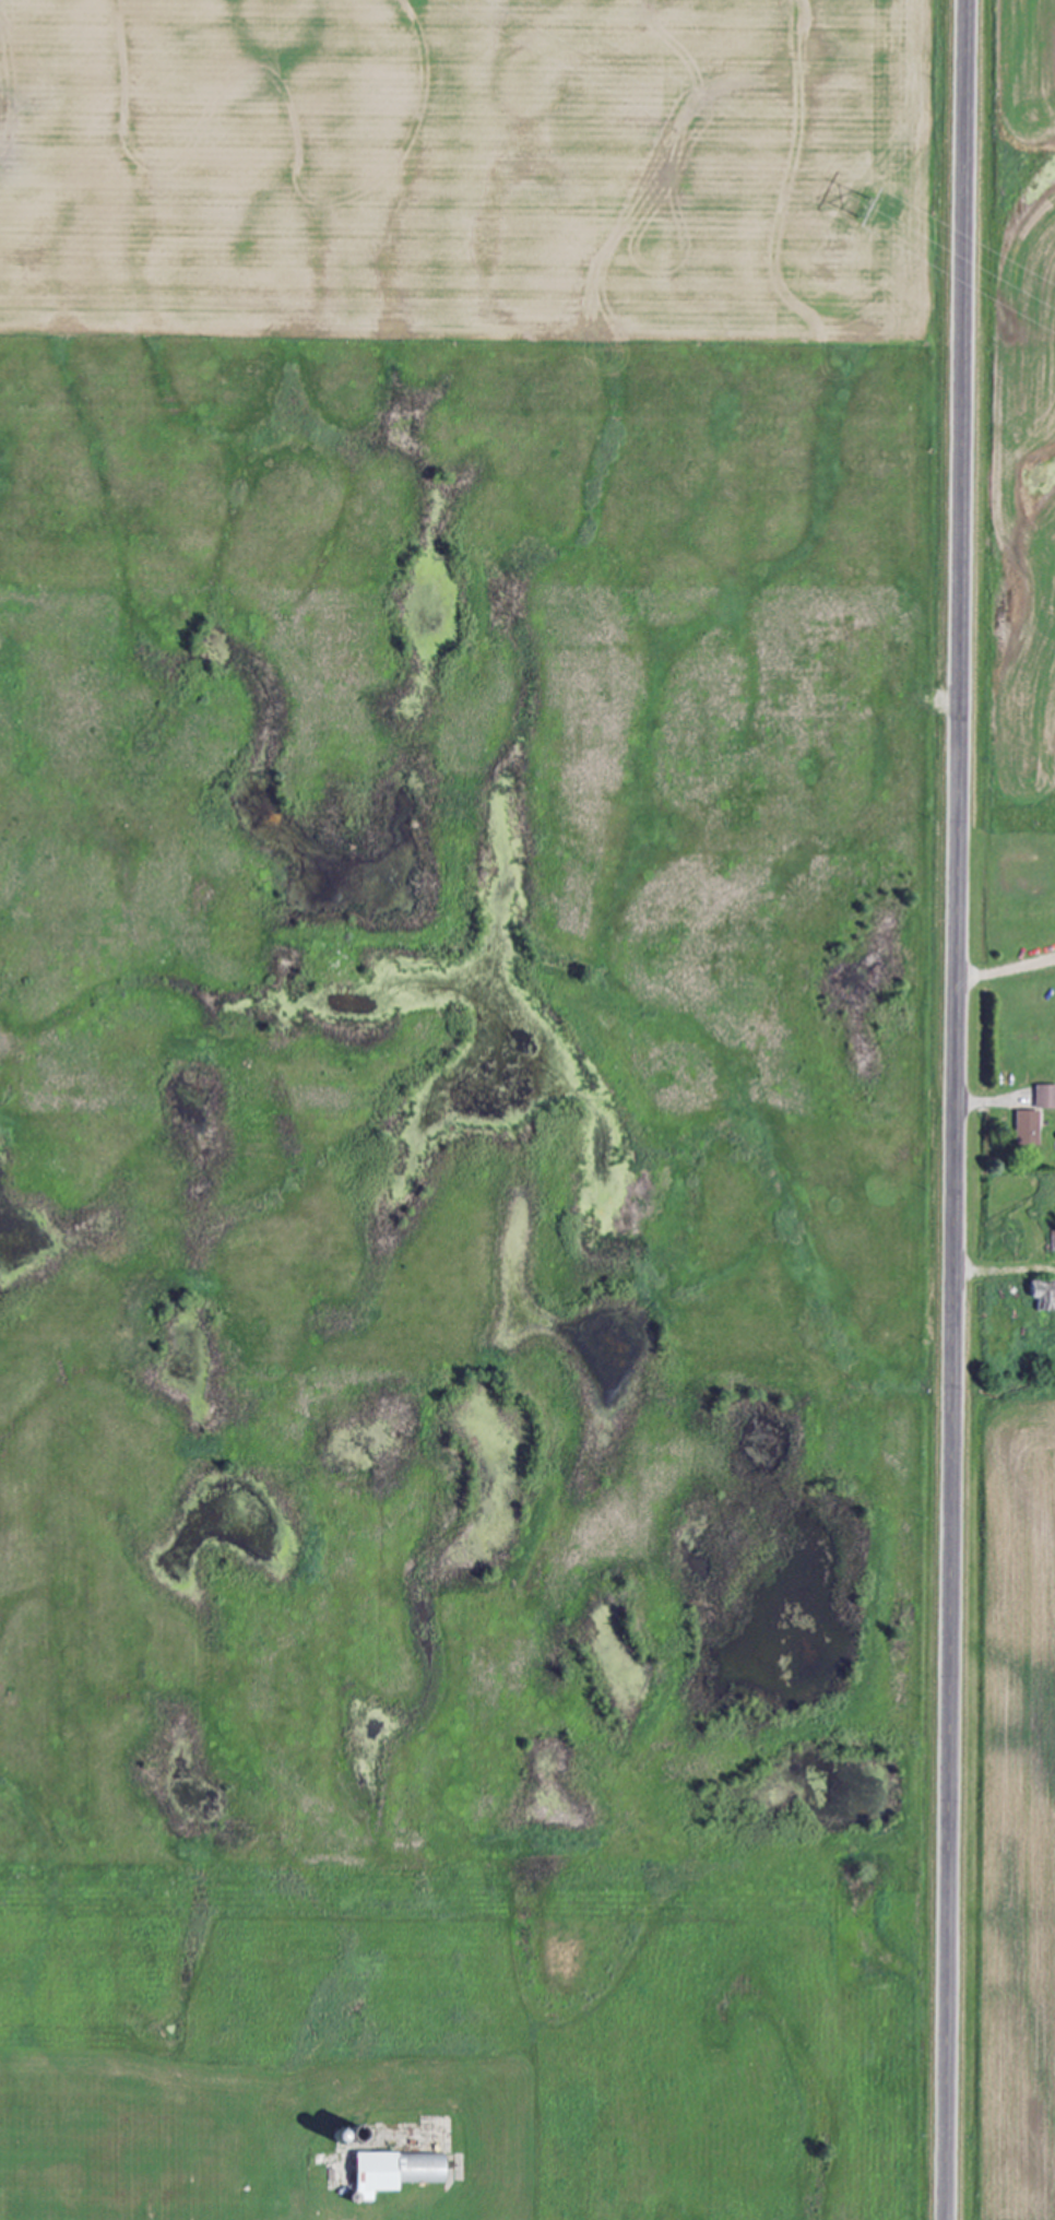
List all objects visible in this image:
power tower: (861, 206)
road: (1006, 969)
building: (1045, 1096)
road: (986, 1100)
road: (955, 1109)
building: (1028, 1126)
building: (398, 2171)

